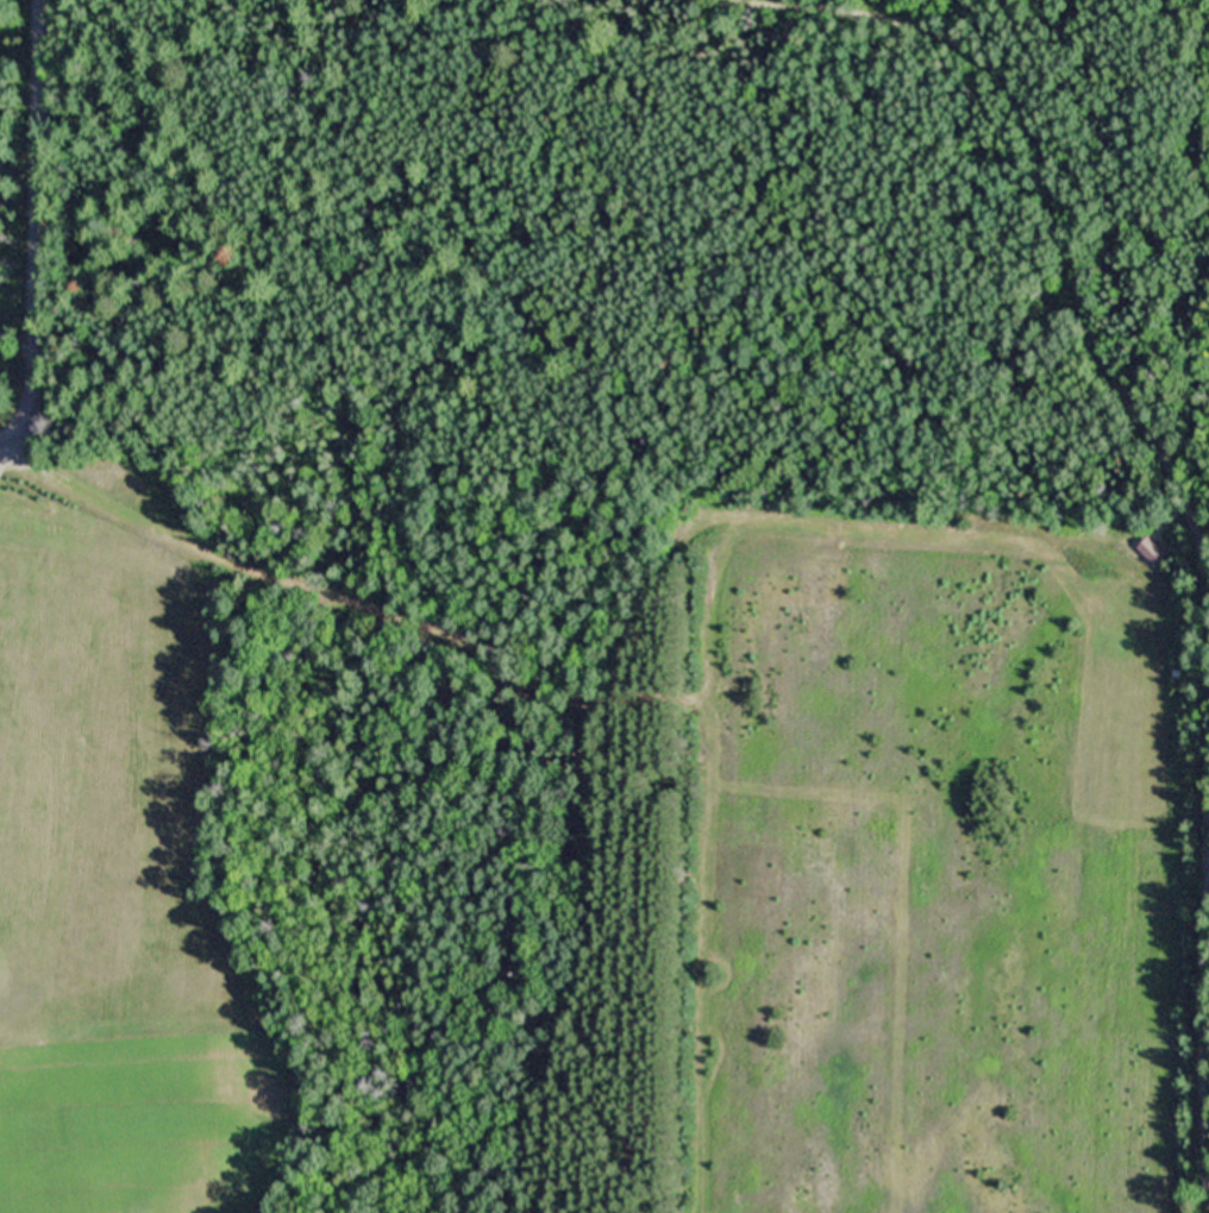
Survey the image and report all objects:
road: (1058, 150)
road: (35, 238)
road: (1204, 1145)

